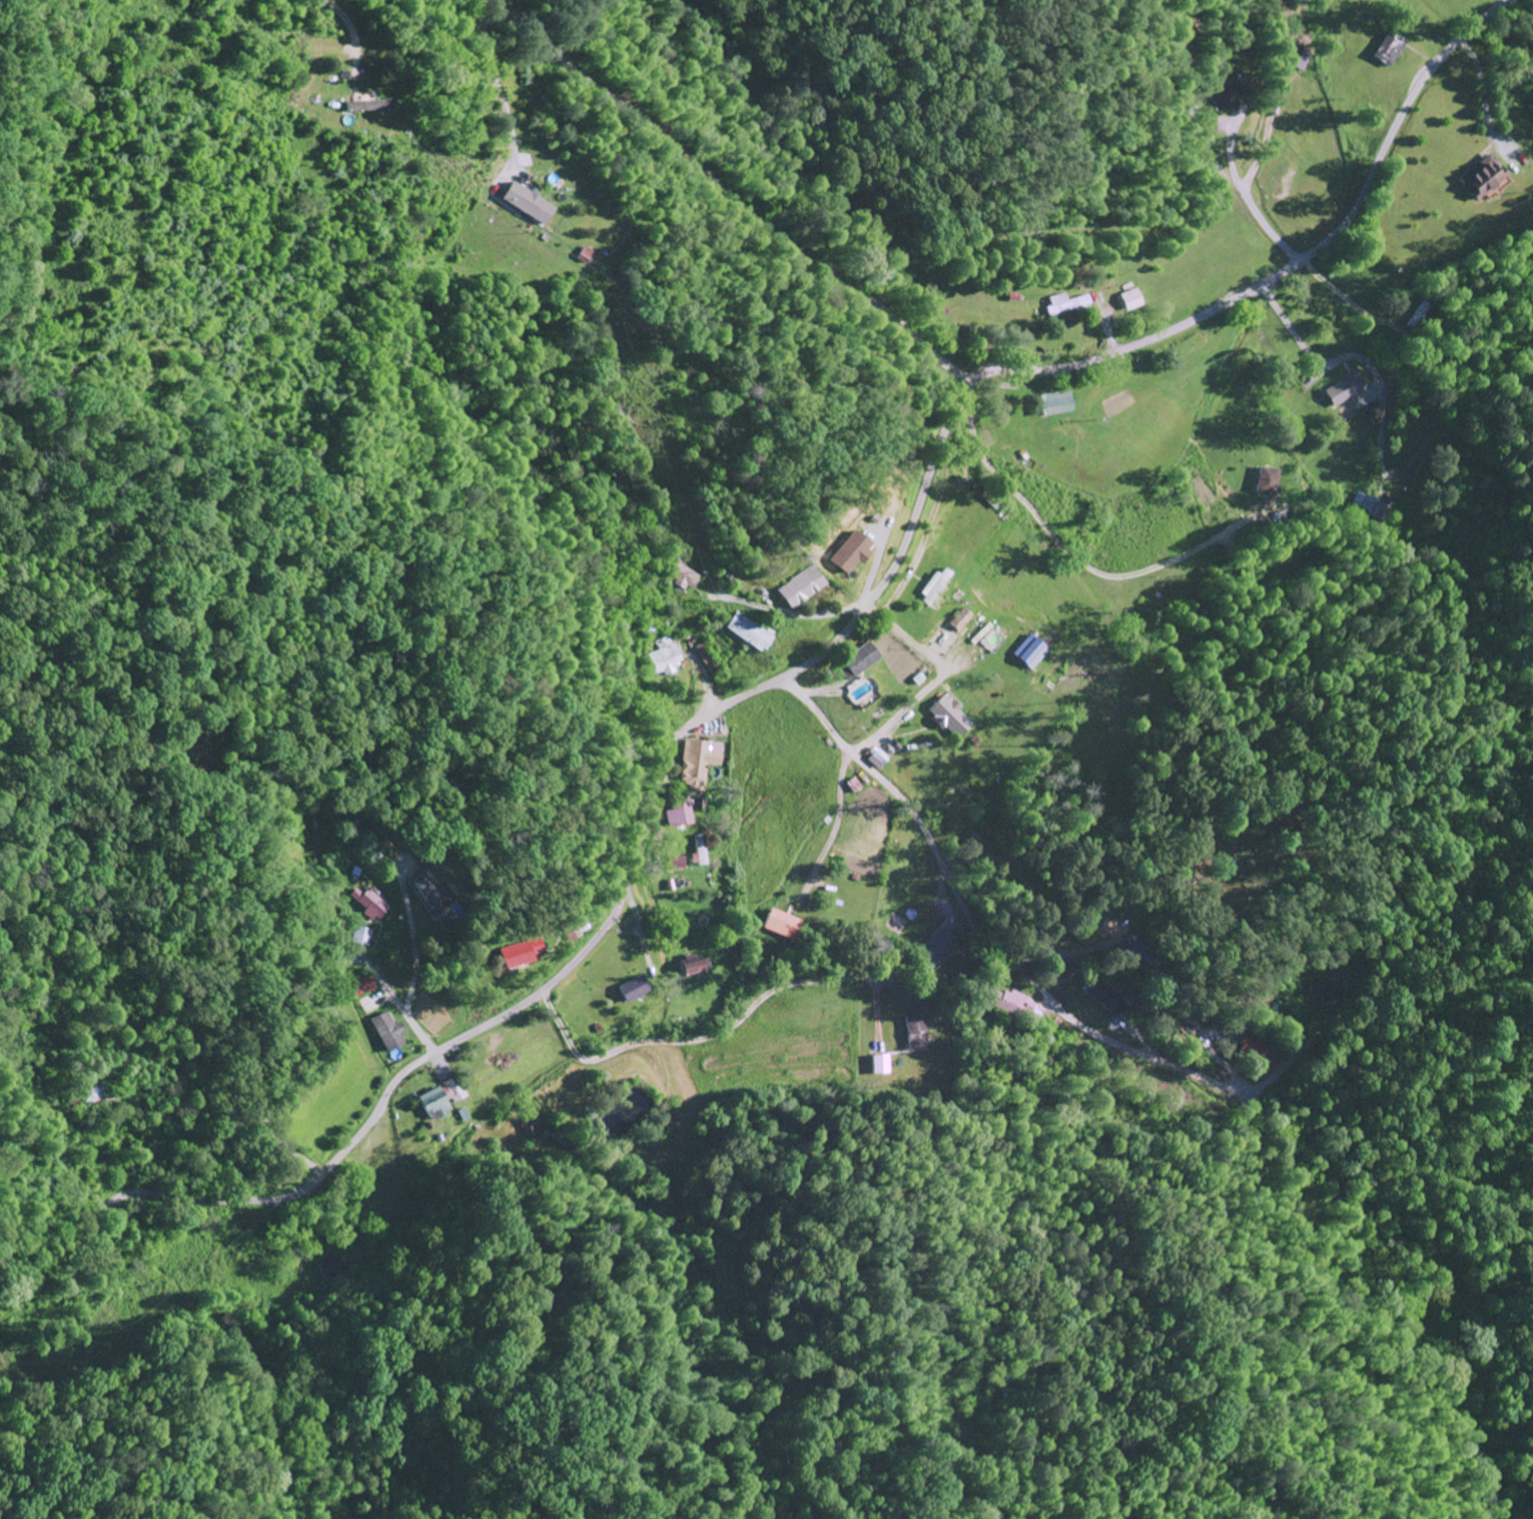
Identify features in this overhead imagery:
building: (1388, 49)
building: (1295, 58)
building: (1227, 93)
building: (369, 106)
road: (671, 141)
building: (1481, 179)
building: (525, 204)
building: (582, 255)
building: (1130, 300)
building: (1067, 305)
building: (1344, 390)
building: (1050, 404)
building: (1265, 481)
building: (1372, 508)
building: (849, 554)
building: (684, 578)
building: (800, 589)
building: (934, 591)
road: (793, 614)
building: (959, 621)
building: (749, 633)
building: (1028, 653)
building: (665, 658)
building: (855, 662)
road: (784, 677)
building: (947, 718)
building: (695, 765)
building: (679, 814)
building: (700, 850)
building: (674, 863)
road: (1072, 868)
building: (427, 898)
building: (369, 904)
road: (966, 912)
building: (778, 925)
building: (362, 937)
building: (935, 949)
building: (518, 954)
building: (361, 988)
building: (630, 991)
building: (1103, 997)
building: (1012, 1003)
building: (386, 1033)
building: (914, 1034)
building: (1252, 1050)
building: (881, 1065)
building: (437, 1101)
building: (533, 1128)

